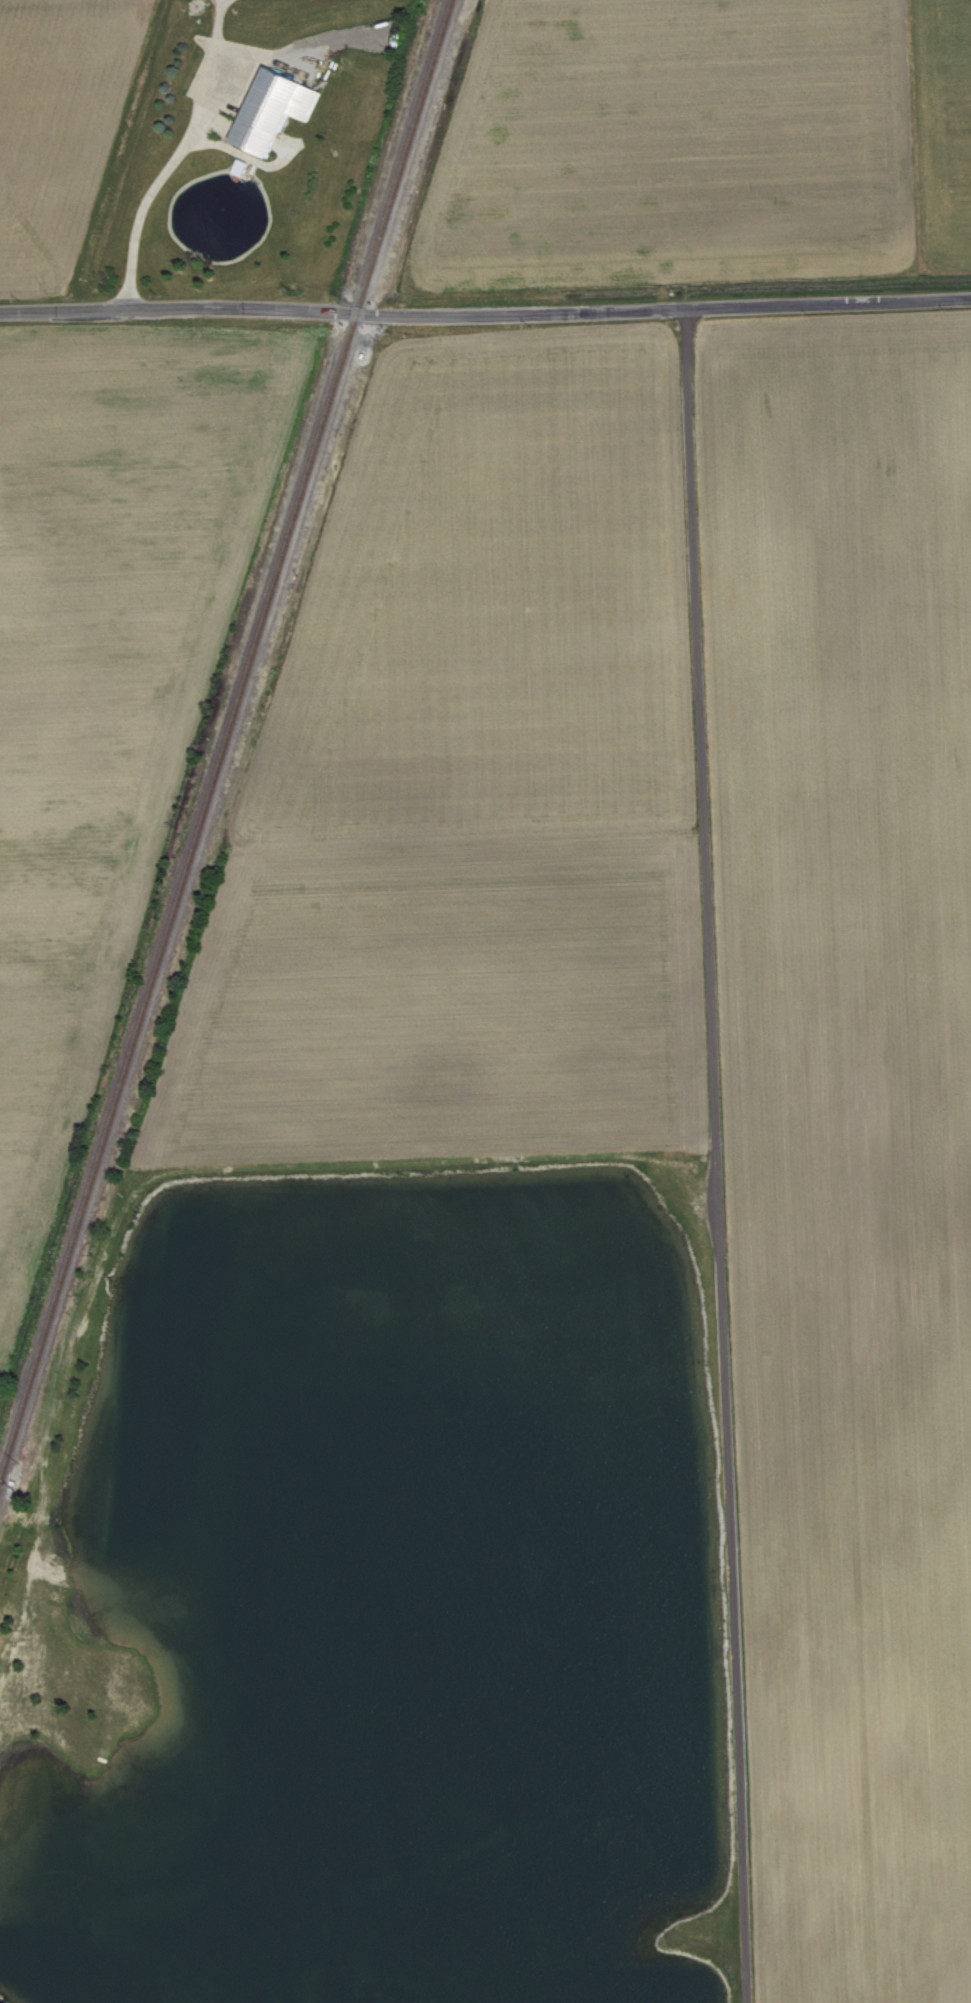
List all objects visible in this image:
building: (279, 114)
road: (164, 186)
road: (485, 314)
crop: (108, 682)
railway: (226, 742)
road: (714, 1155)
airport runway: (817, 1523)

